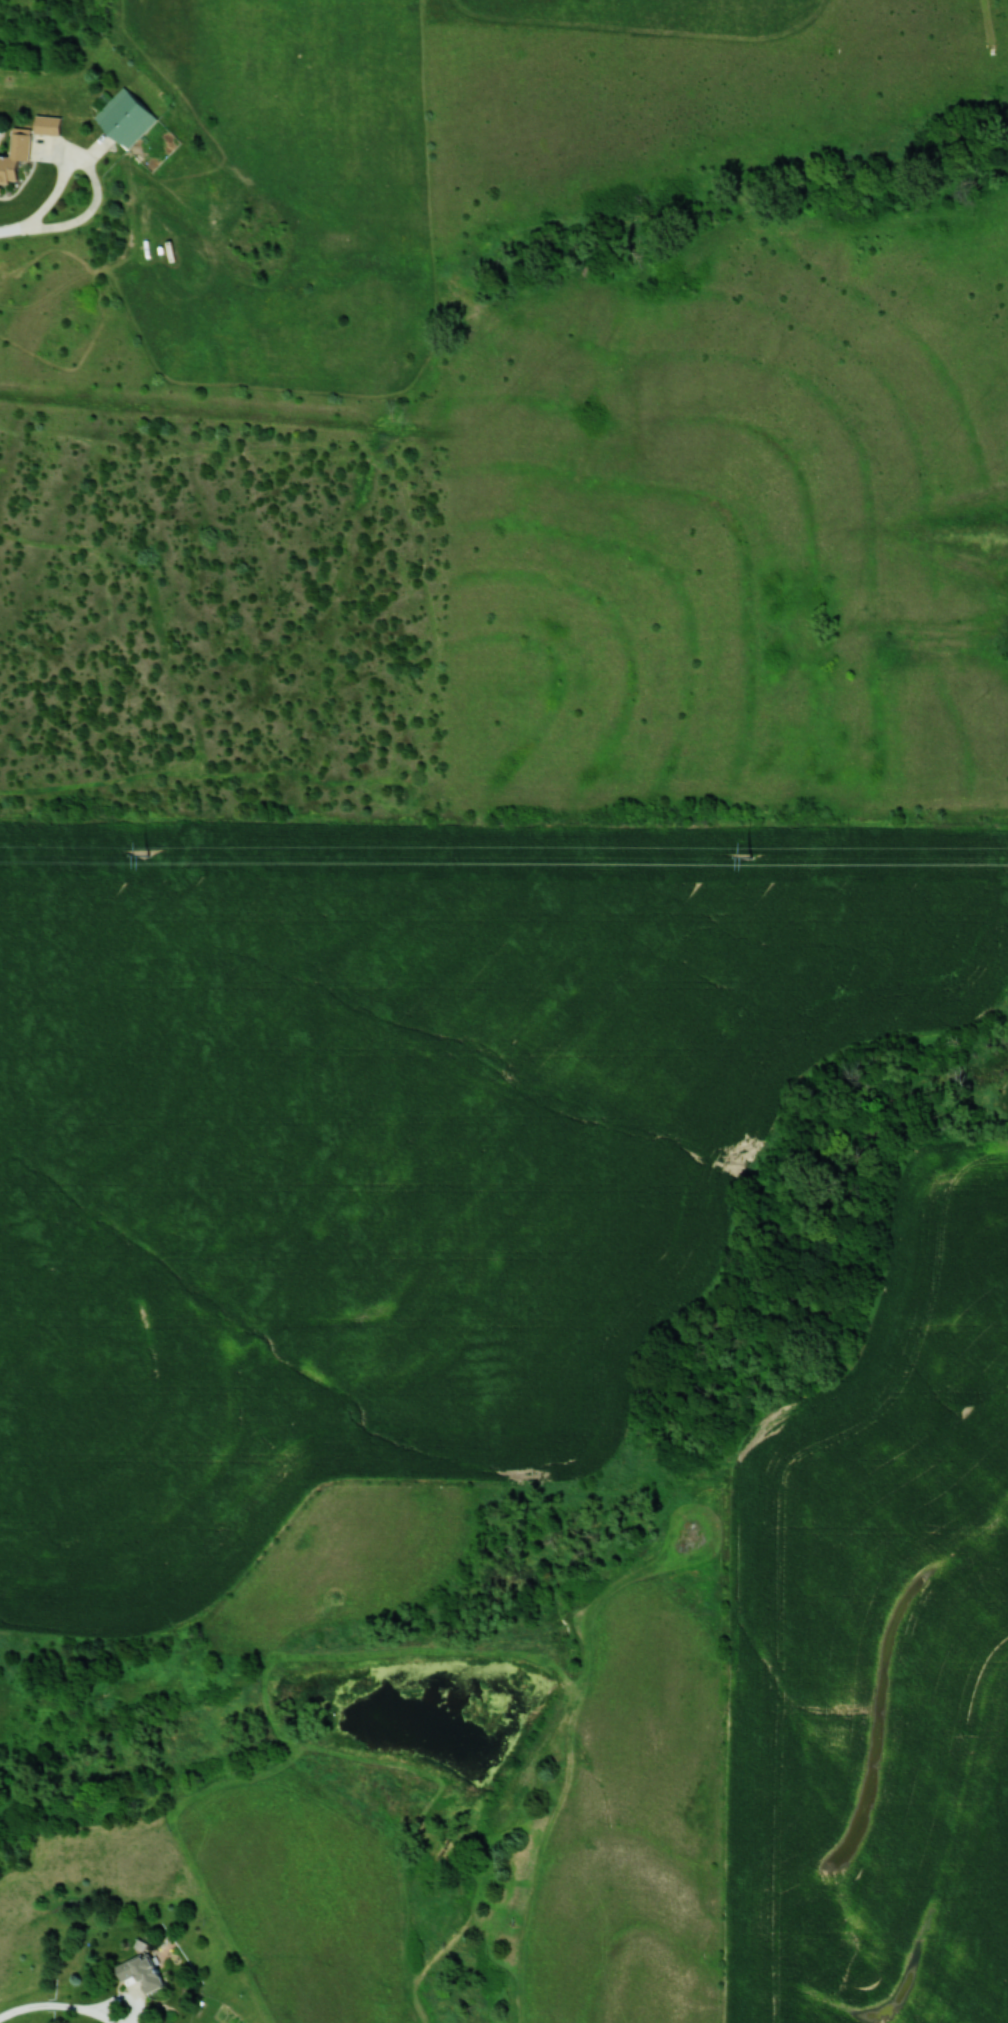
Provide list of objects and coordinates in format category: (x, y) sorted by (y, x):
building: (124, 119)
building: (46, 125)
building: (14, 154)
road: (93, 176)
road: (12, 231)
dam: (968, 538)
power tower: (146, 854)
power tower: (747, 856)
crop: (880, 1649)
building: (138, 1972)
road: (49, 2008)

